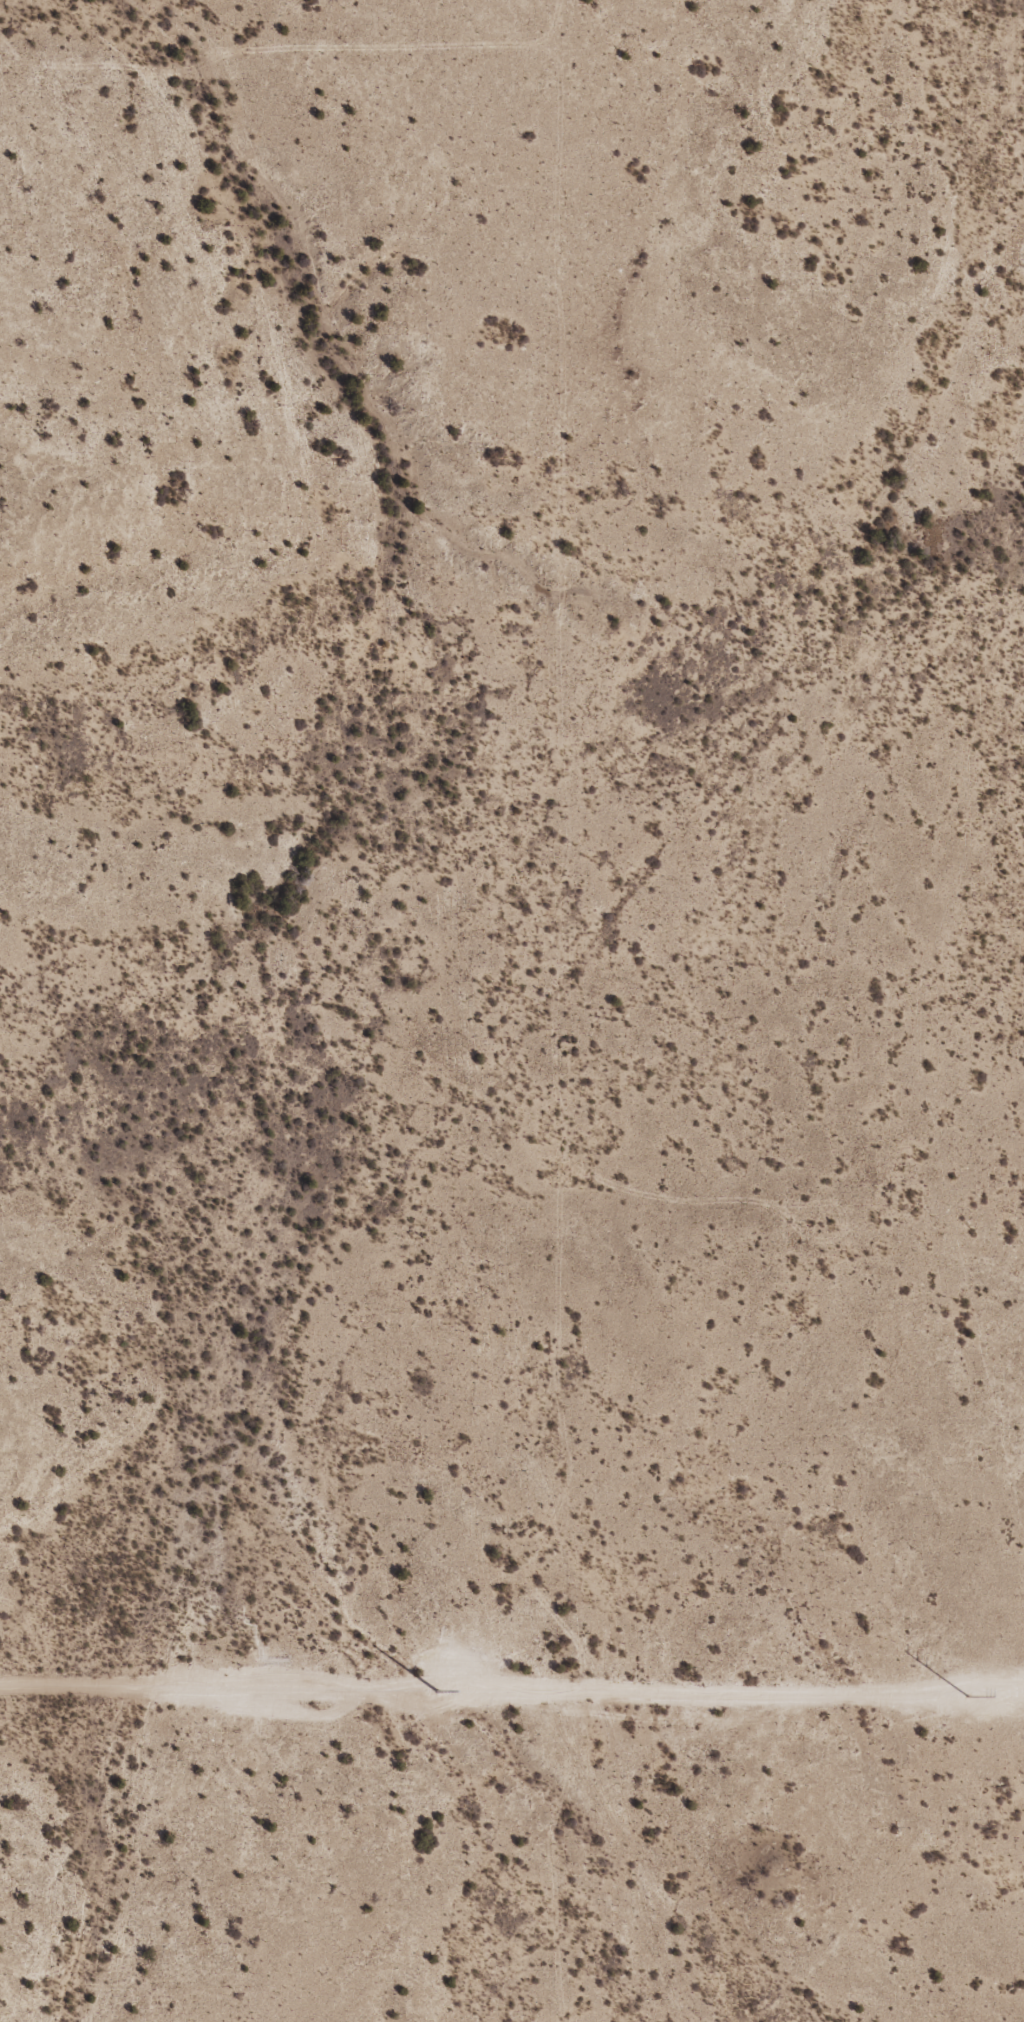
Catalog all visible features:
power tower: (453, 1694)
power tower: (1006, 1699)

